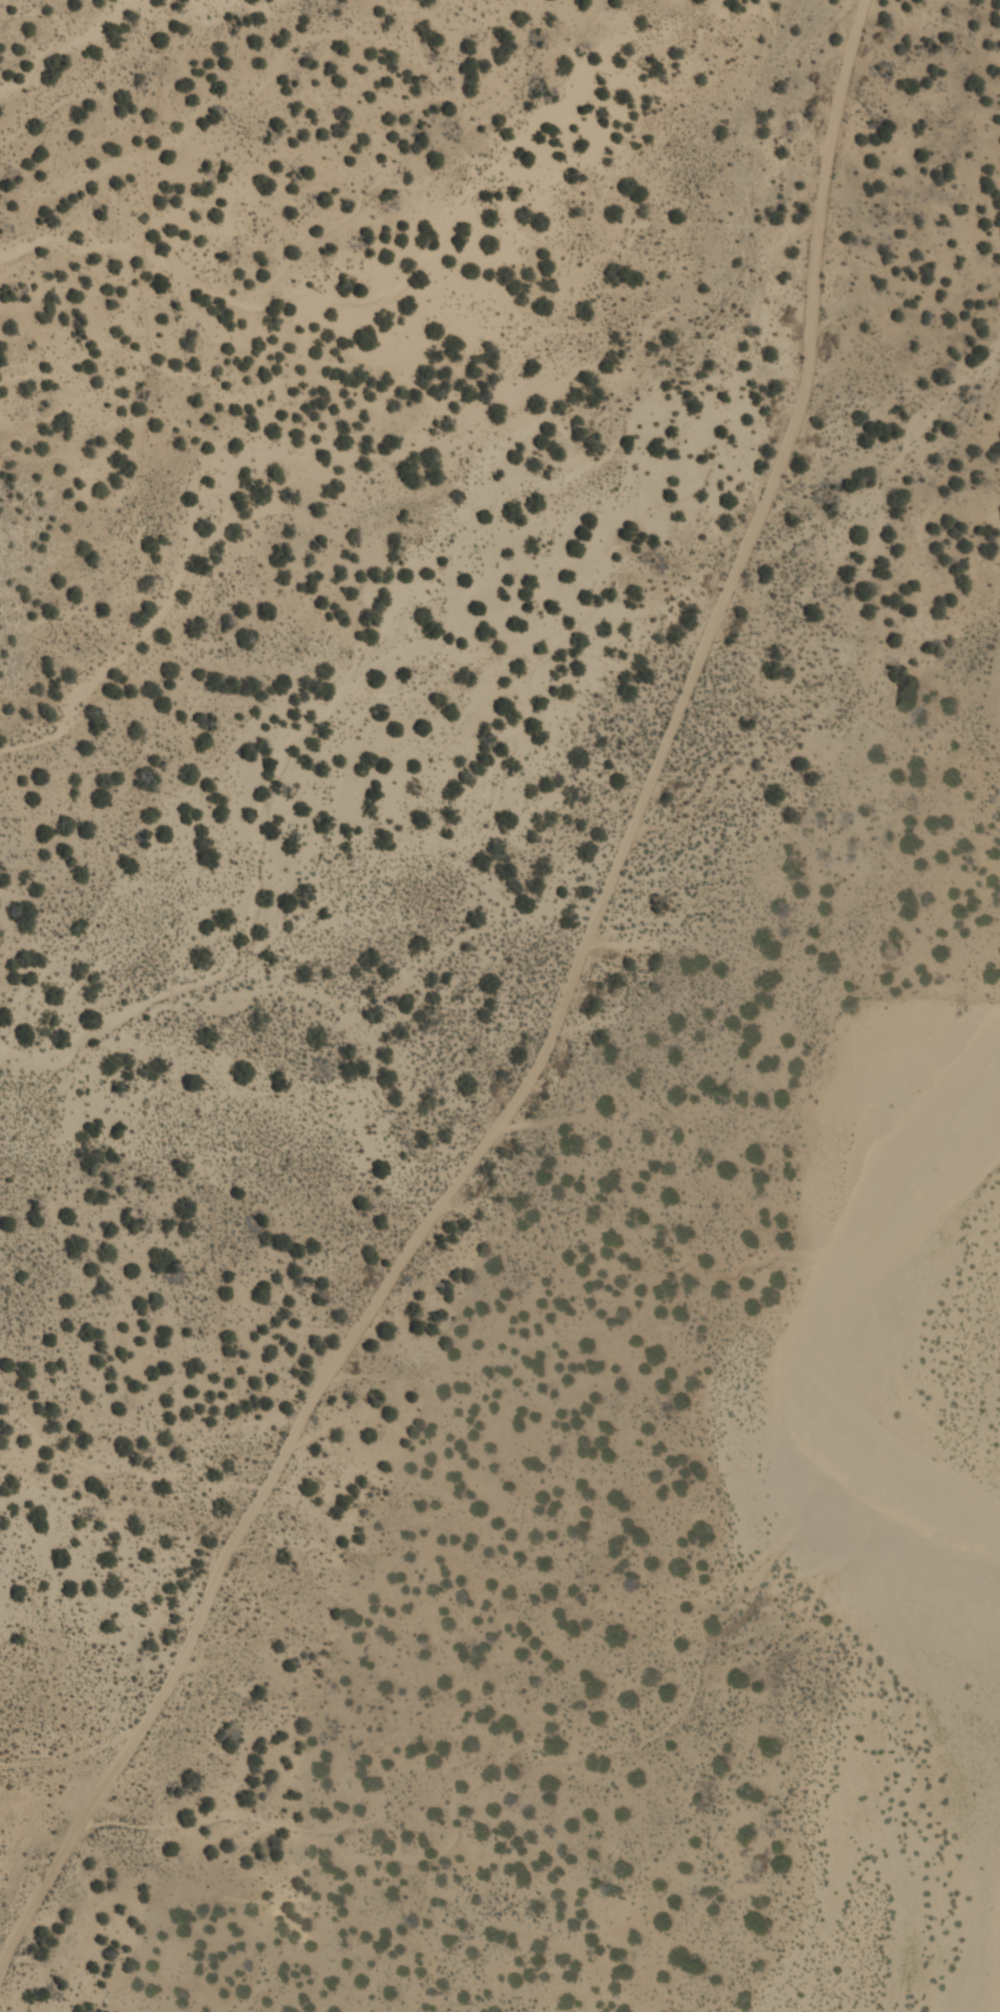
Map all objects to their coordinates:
road: (43, 963)

